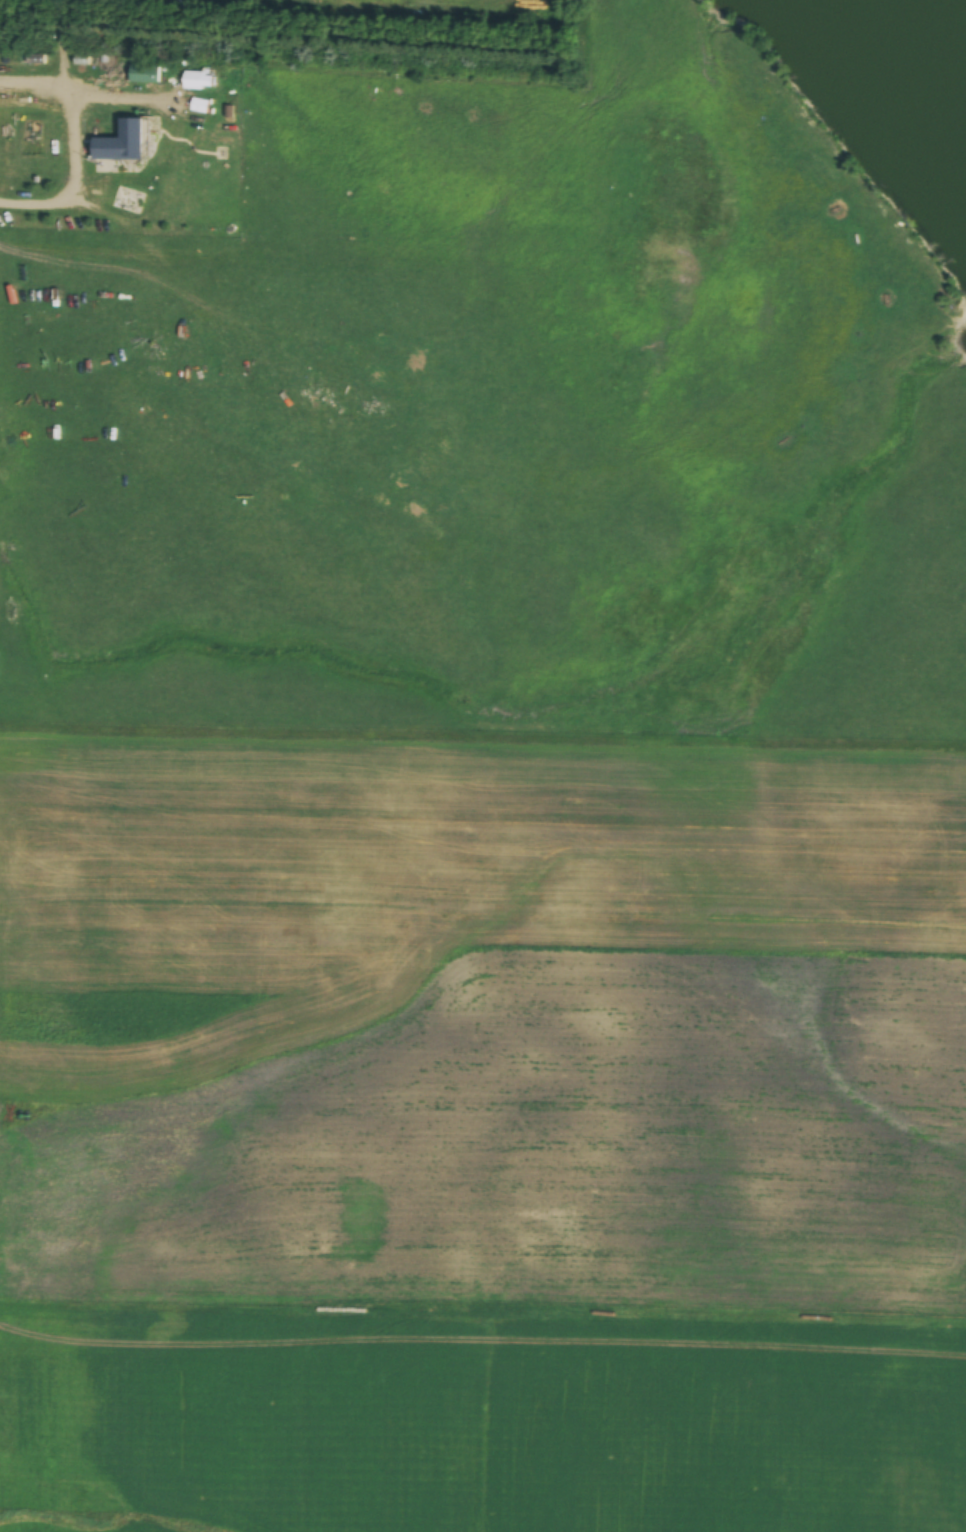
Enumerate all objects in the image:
building: (27, 61)
building: (199, 82)
building: (121, 145)
road: (482, 1319)

